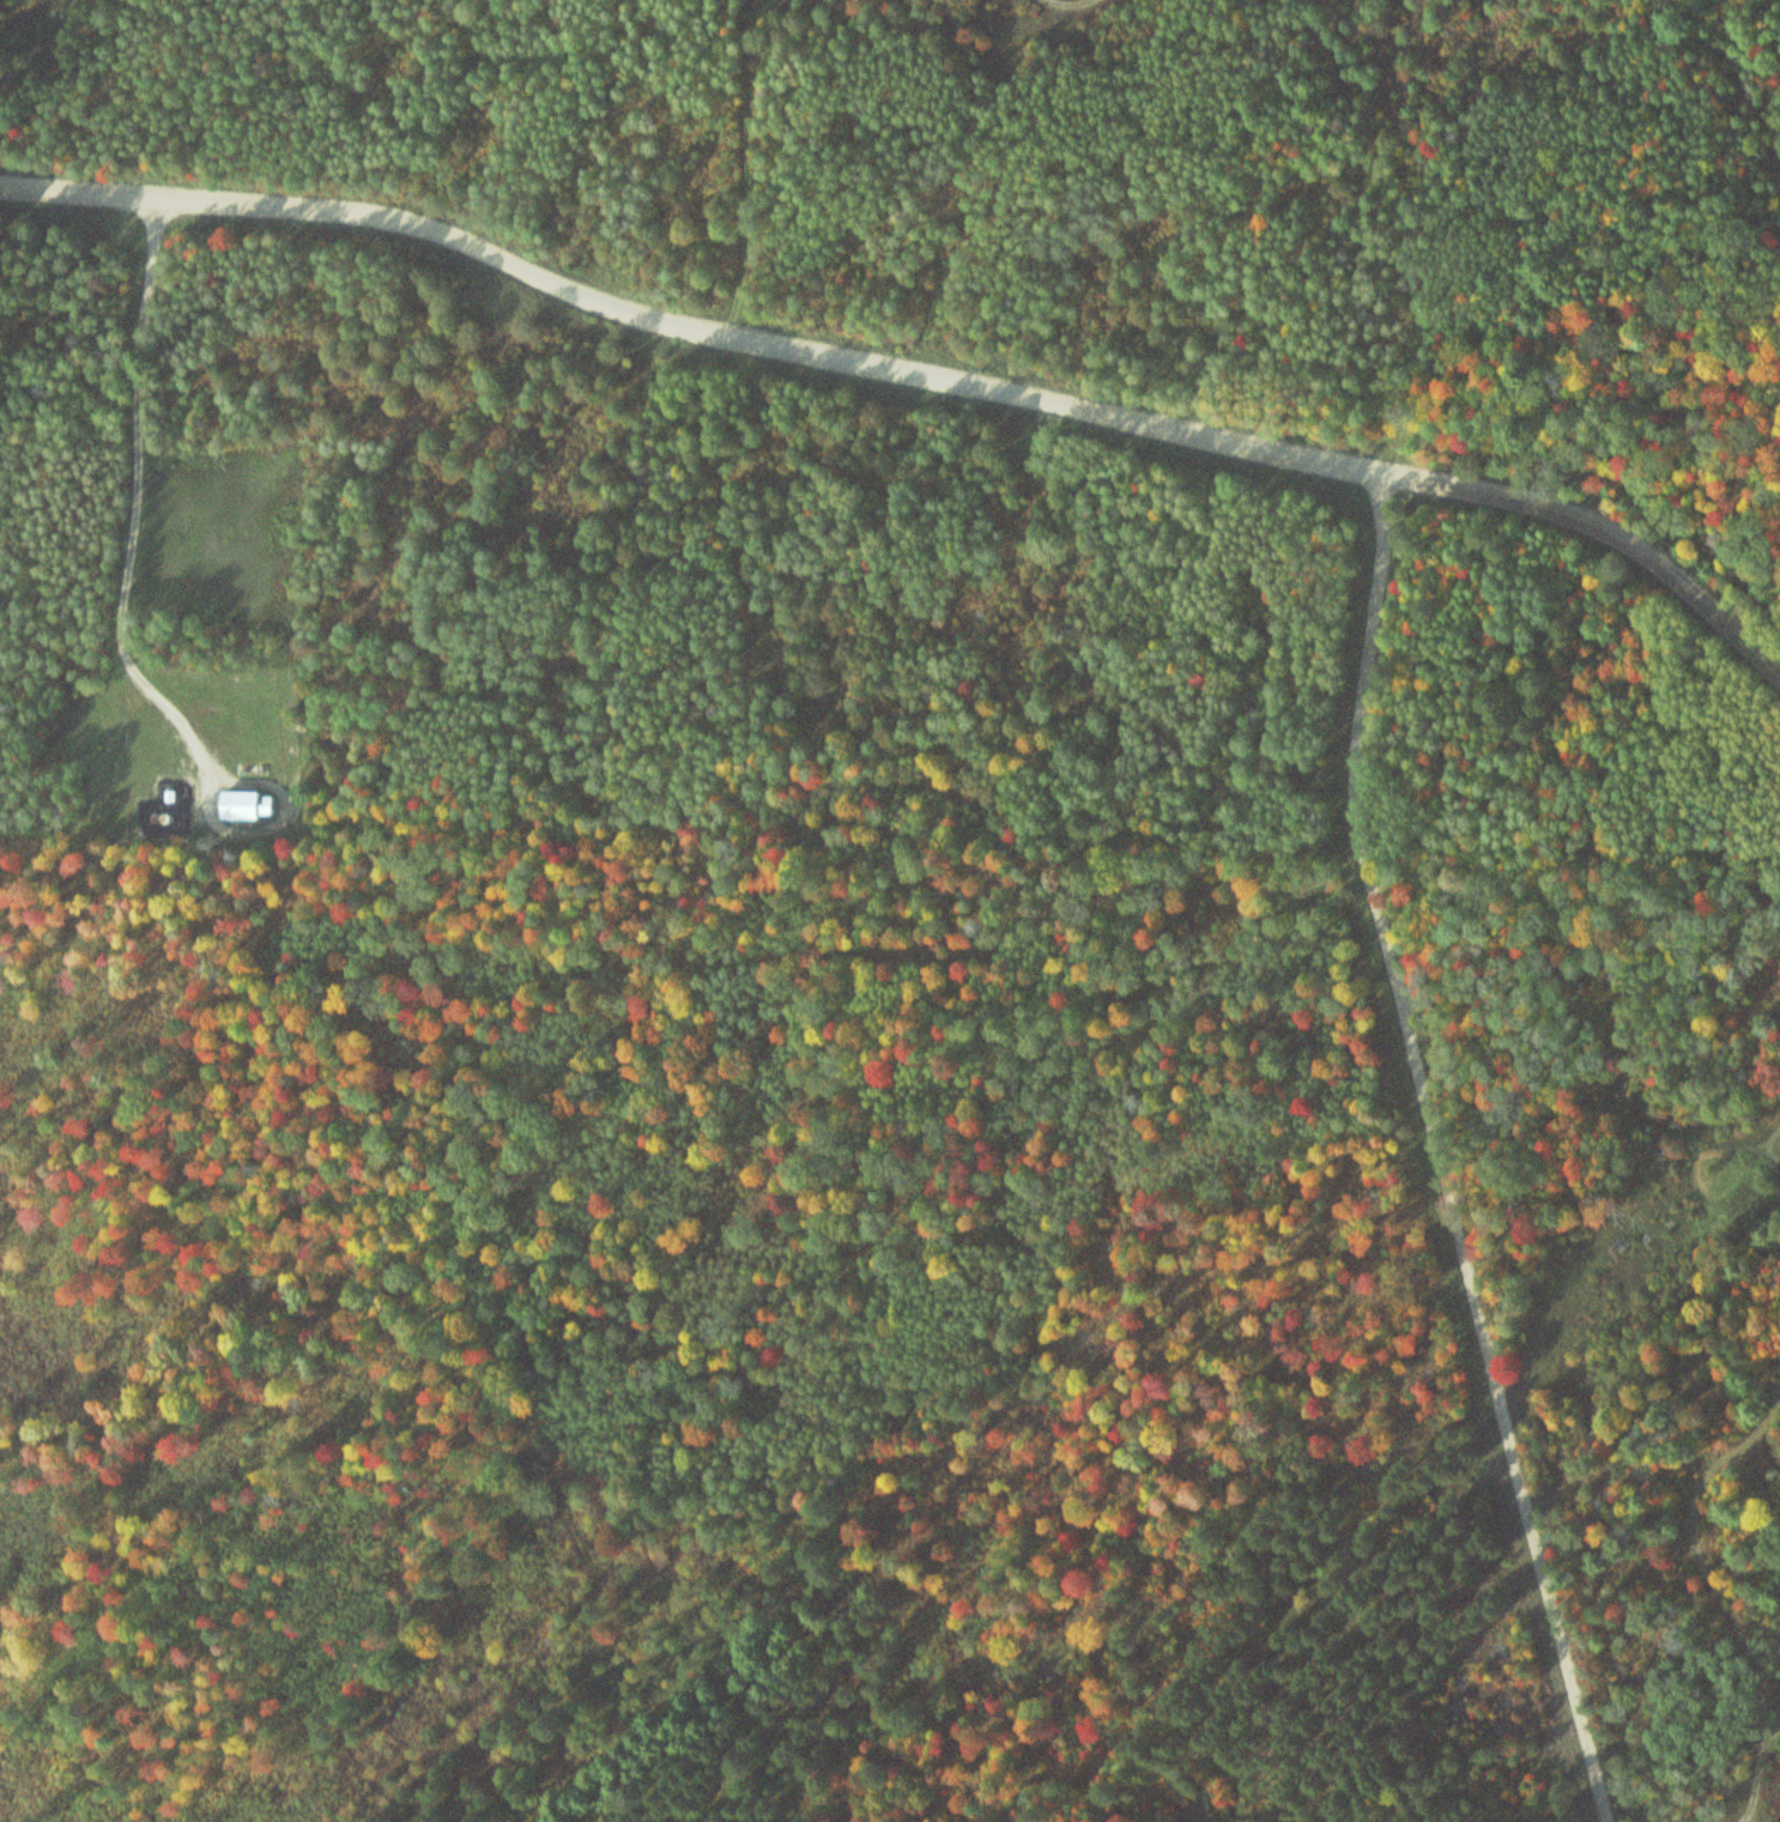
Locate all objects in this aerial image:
road: (912, 376)
building: (243, 805)
road: (1433, 1155)

